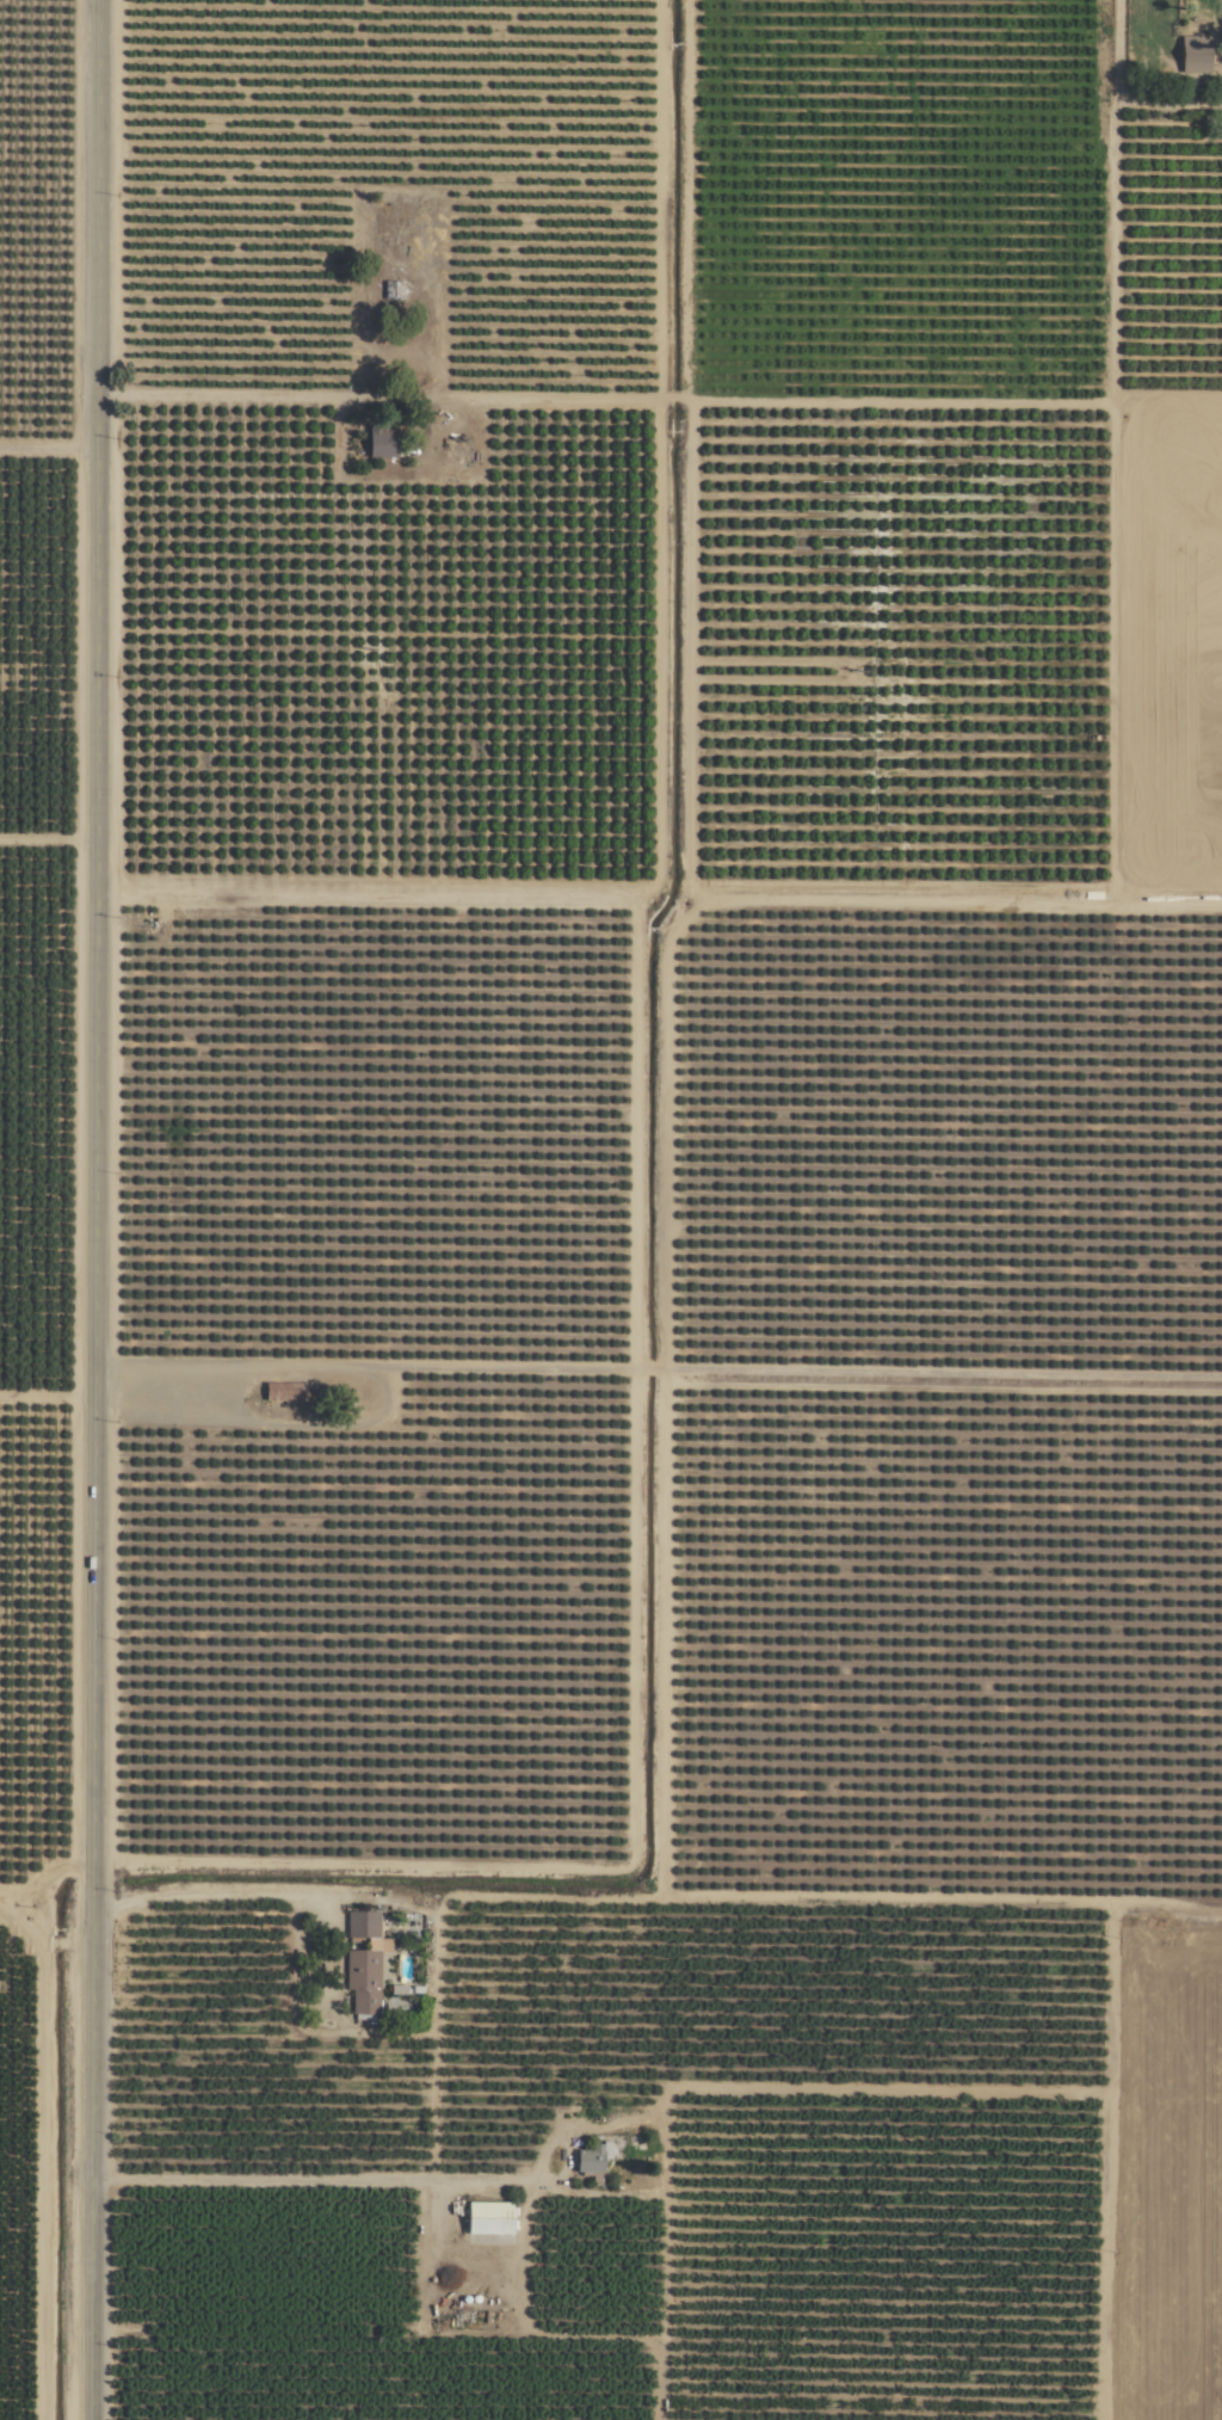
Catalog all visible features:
road: (806, 402)
road: (95, 1209)
building: (286, 1392)
crop: (35, 1633)
road: (216, 1896)
building: (357, 1923)
road: (322, 2181)
building: (490, 2217)

